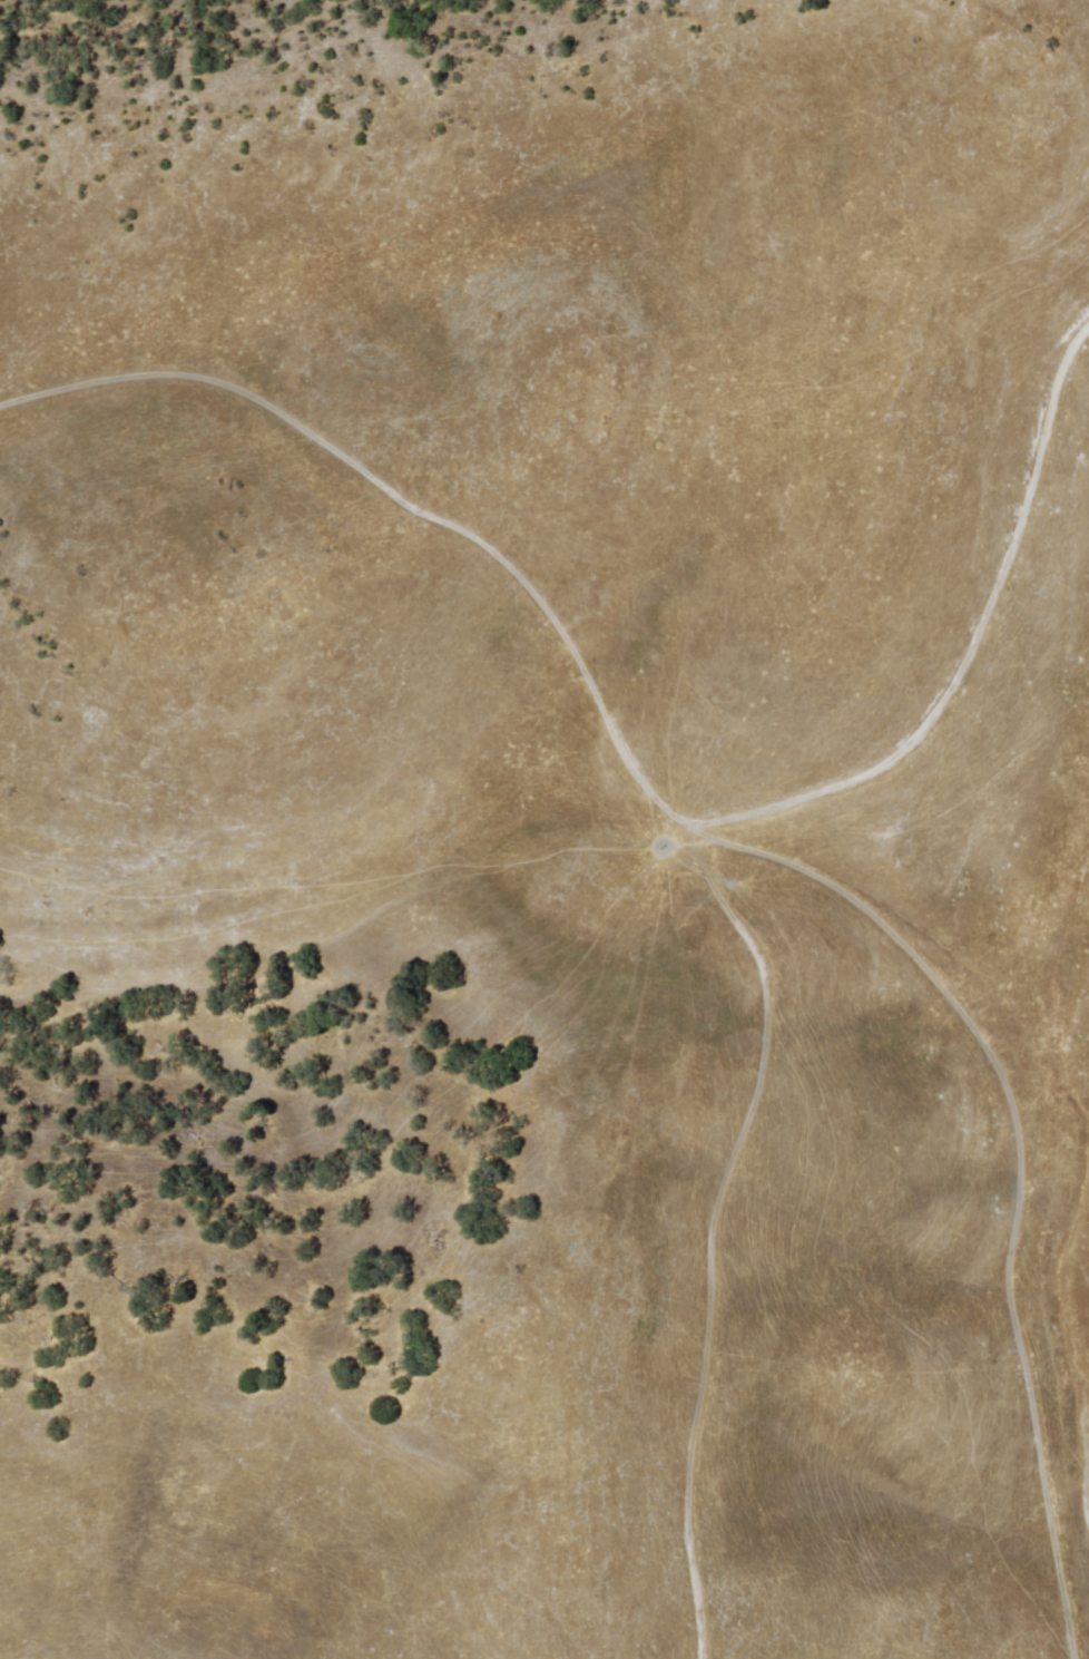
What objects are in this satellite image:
road: (785, 924)

